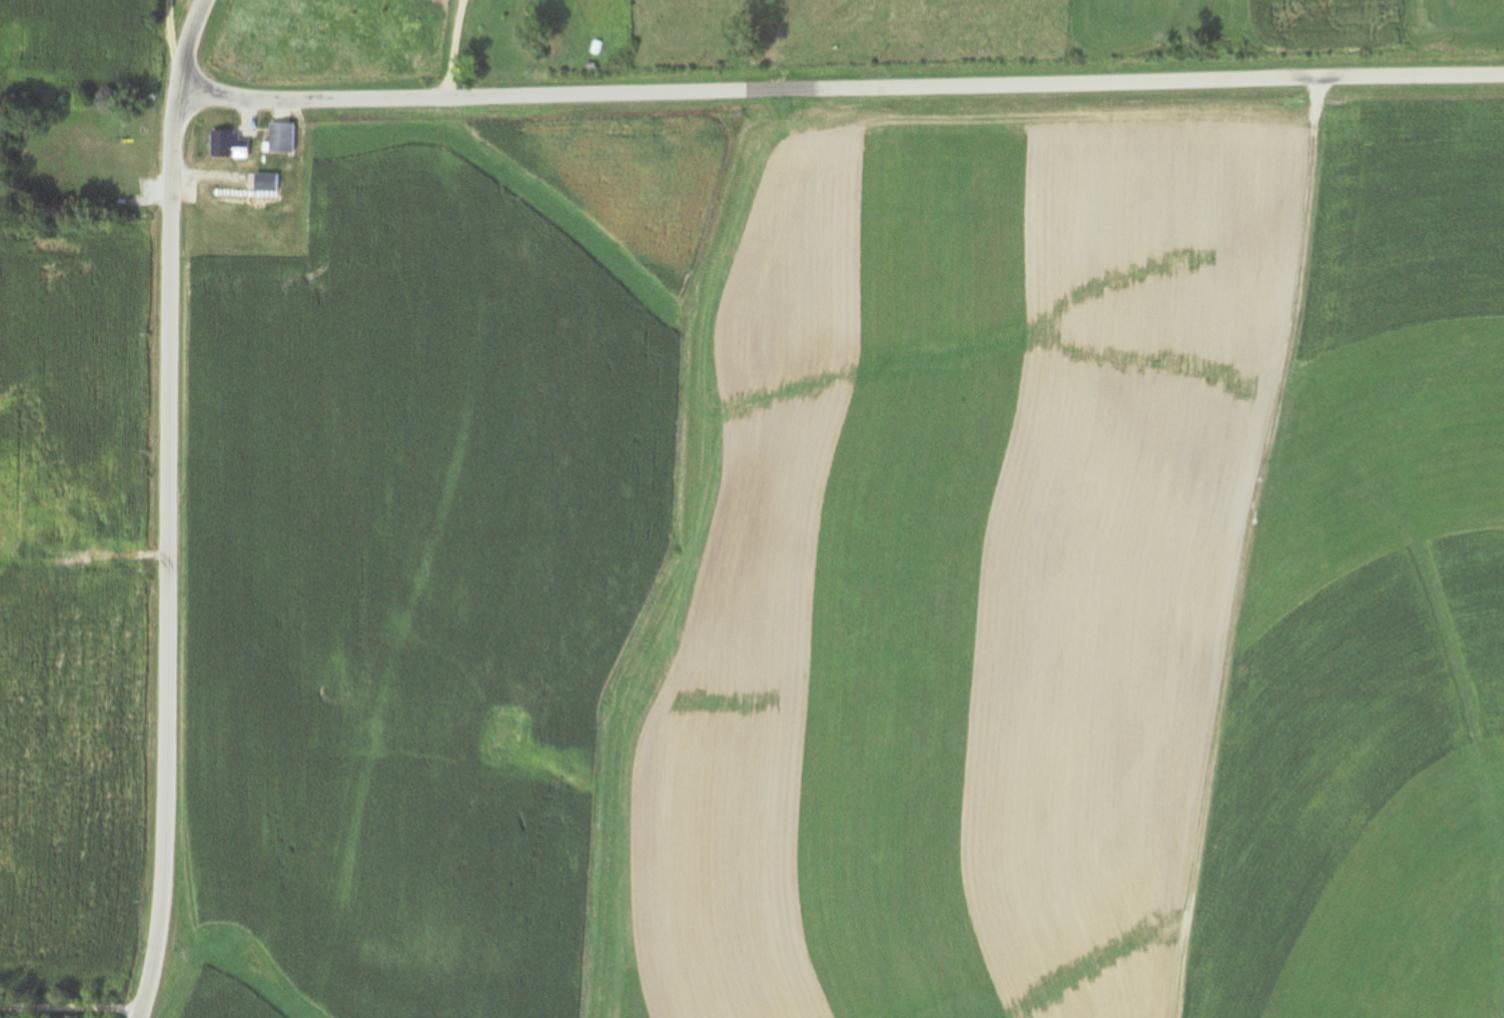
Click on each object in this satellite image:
road: (845, 89)
building: (282, 139)
building: (227, 144)
building: (265, 182)
building: (212, 193)
road: (173, 508)
building: (55, 524)
building: (0, 551)
road: (73, 1006)

